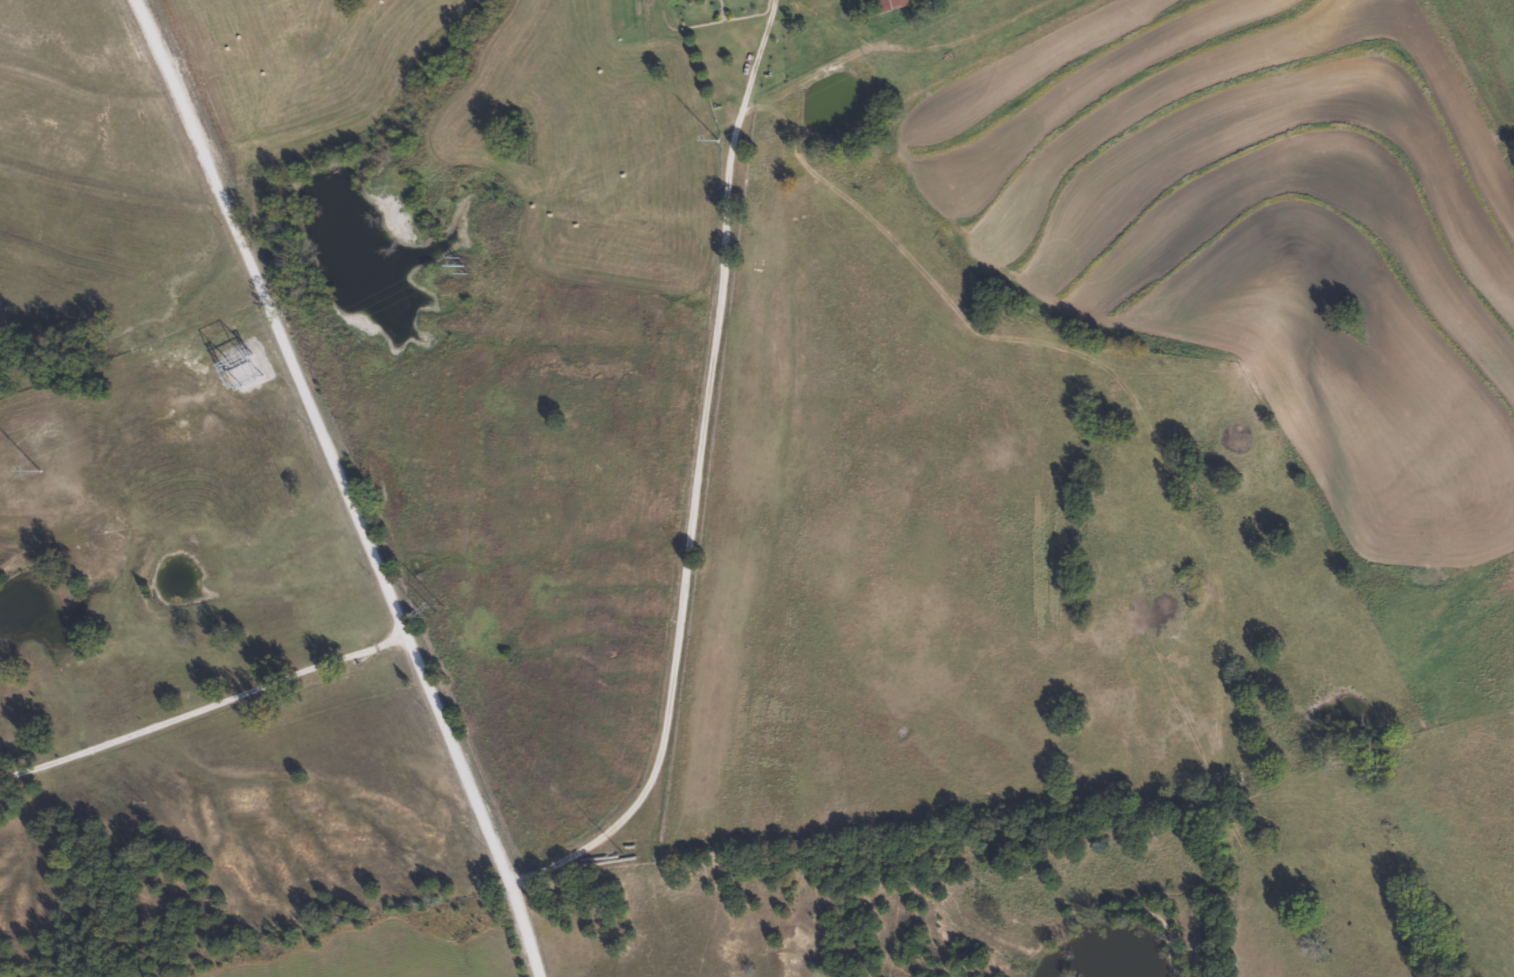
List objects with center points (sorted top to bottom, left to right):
building: (890, 4)
power tower: (715, 137)
power tower: (460, 262)
building: (242, 367)
power tower: (36, 469)
road: (332, 486)

